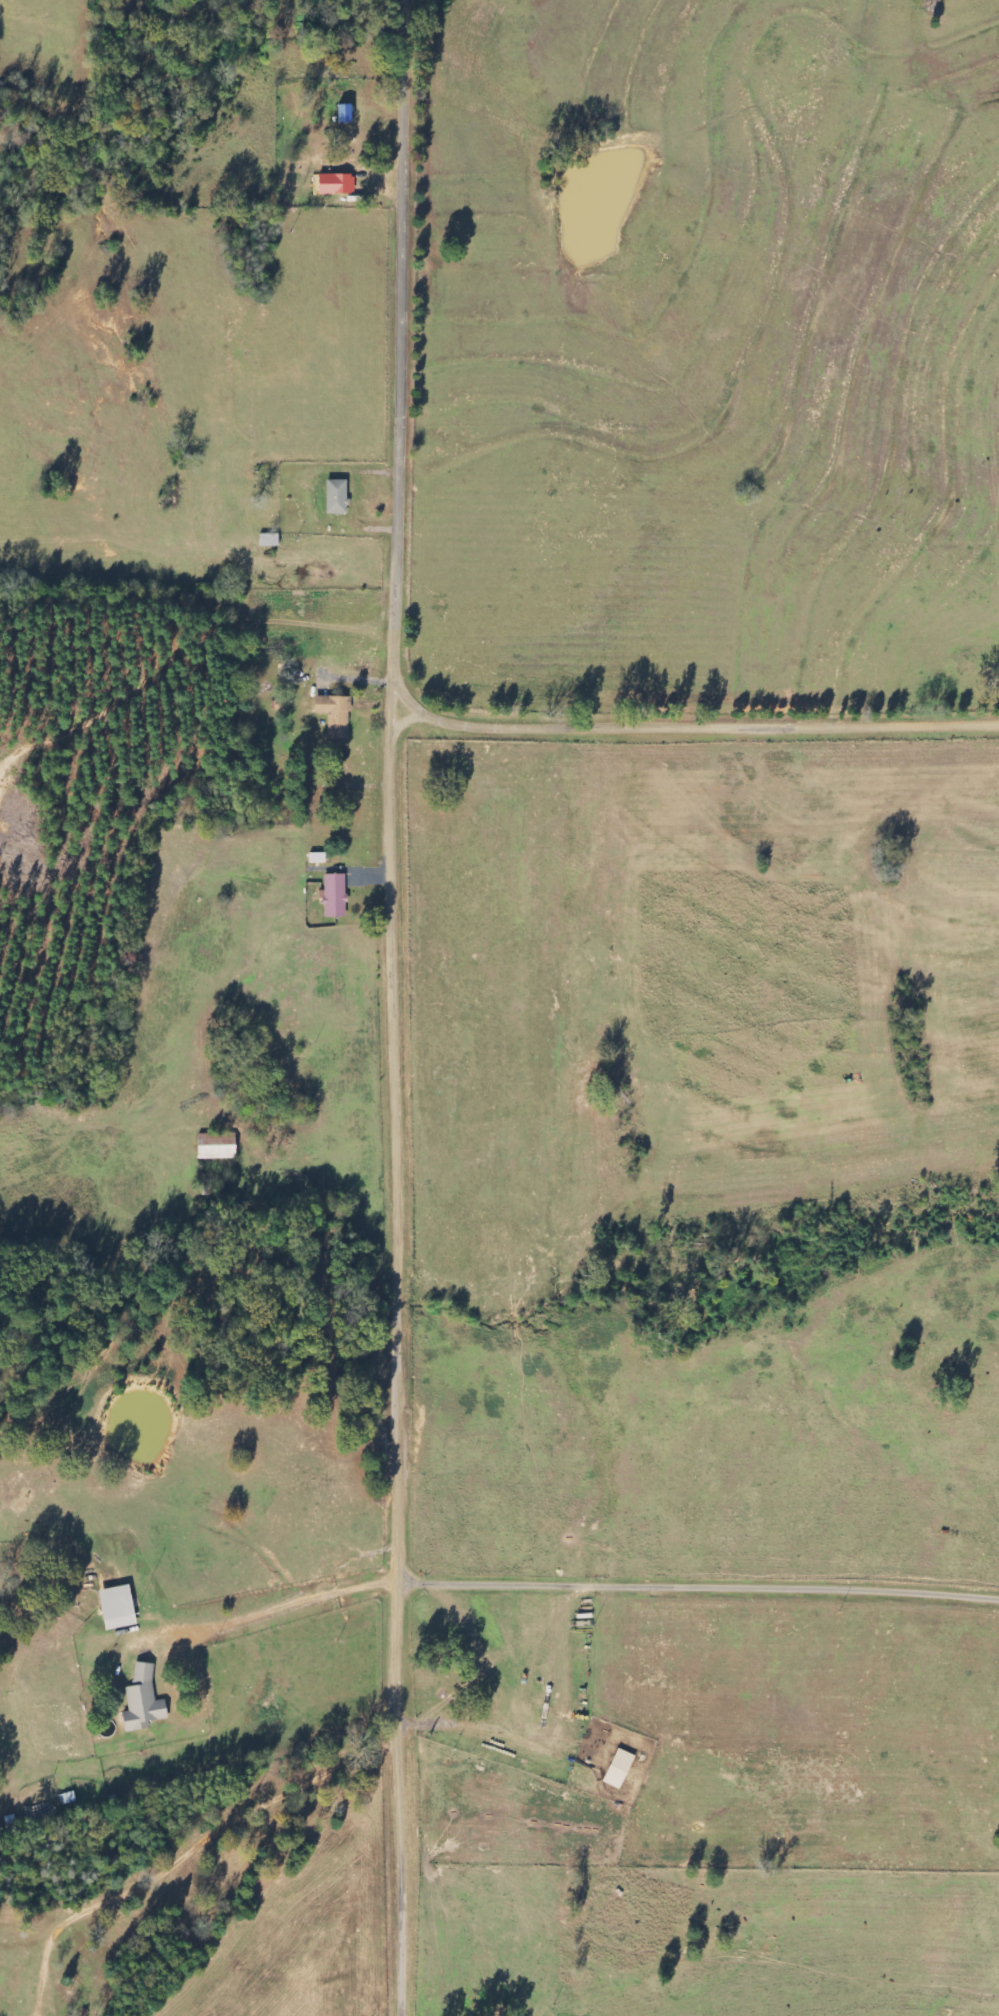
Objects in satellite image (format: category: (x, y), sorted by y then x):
road: (202, 43)
building: (343, 184)
building: (336, 497)
building: (253, 712)
building: (334, 714)
road: (698, 725)
building: (317, 857)
building: (333, 894)
road: (400, 1007)
building: (215, 1146)
road: (196, 1553)
building: (116, 1607)
building: (142, 1700)
building: (617, 1769)
road: (205, 1841)
road: (792, 2014)

